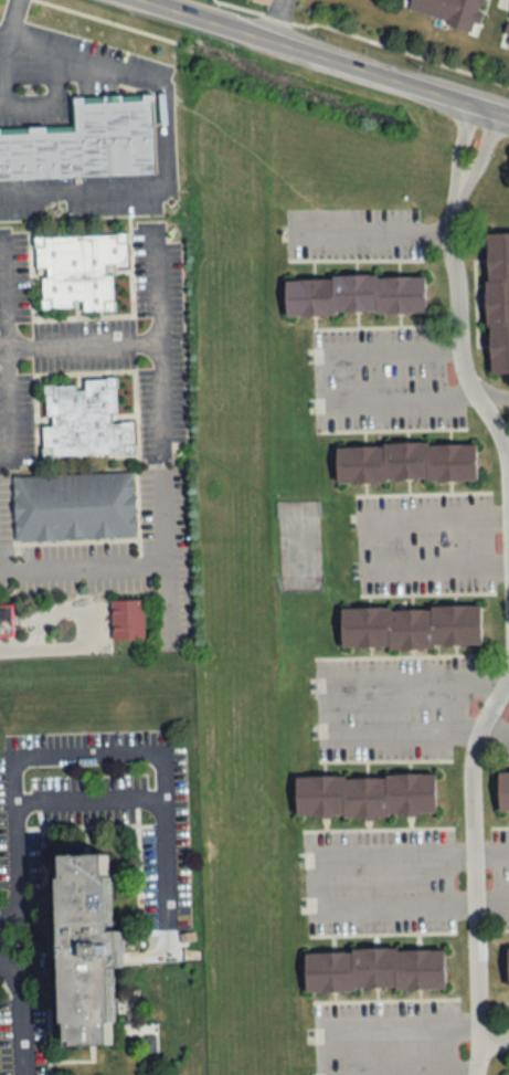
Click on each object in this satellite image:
building: (447, 11)
road: (10, 17)
road: (113, 20)
road: (2, 33)
road: (369, 35)
road: (331, 55)
road: (2, 70)
road: (50, 99)
road: (162, 135)
building: (85, 141)
road: (459, 144)
road: (485, 152)
road: (374, 232)
building: (77, 270)
building: (356, 293)
building: (498, 299)
road: (459, 326)
road: (35, 341)
road: (327, 384)
road: (494, 396)
road: (9, 407)
building: (84, 419)
building: (406, 461)
building: (74, 506)
road: (369, 540)
road: (126, 562)
road: (167, 602)
building: (127, 618)
building: (6, 620)
building: (411, 625)
road: (71, 647)
road: (507, 681)
road: (329, 692)
road: (494, 728)
road: (94, 755)
building: (503, 790)
building: (365, 794)
road: (87, 800)
road: (491, 845)
road: (475, 855)
road: (319, 876)
road: (492, 900)
road: (40, 944)
building: (87, 946)
building: (508, 966)
building: (375, 968)
road: (21, 1025)
road: (404, 1025)
road: (492, 1037)
road: (475, 1060)
road: (377, 1074)

